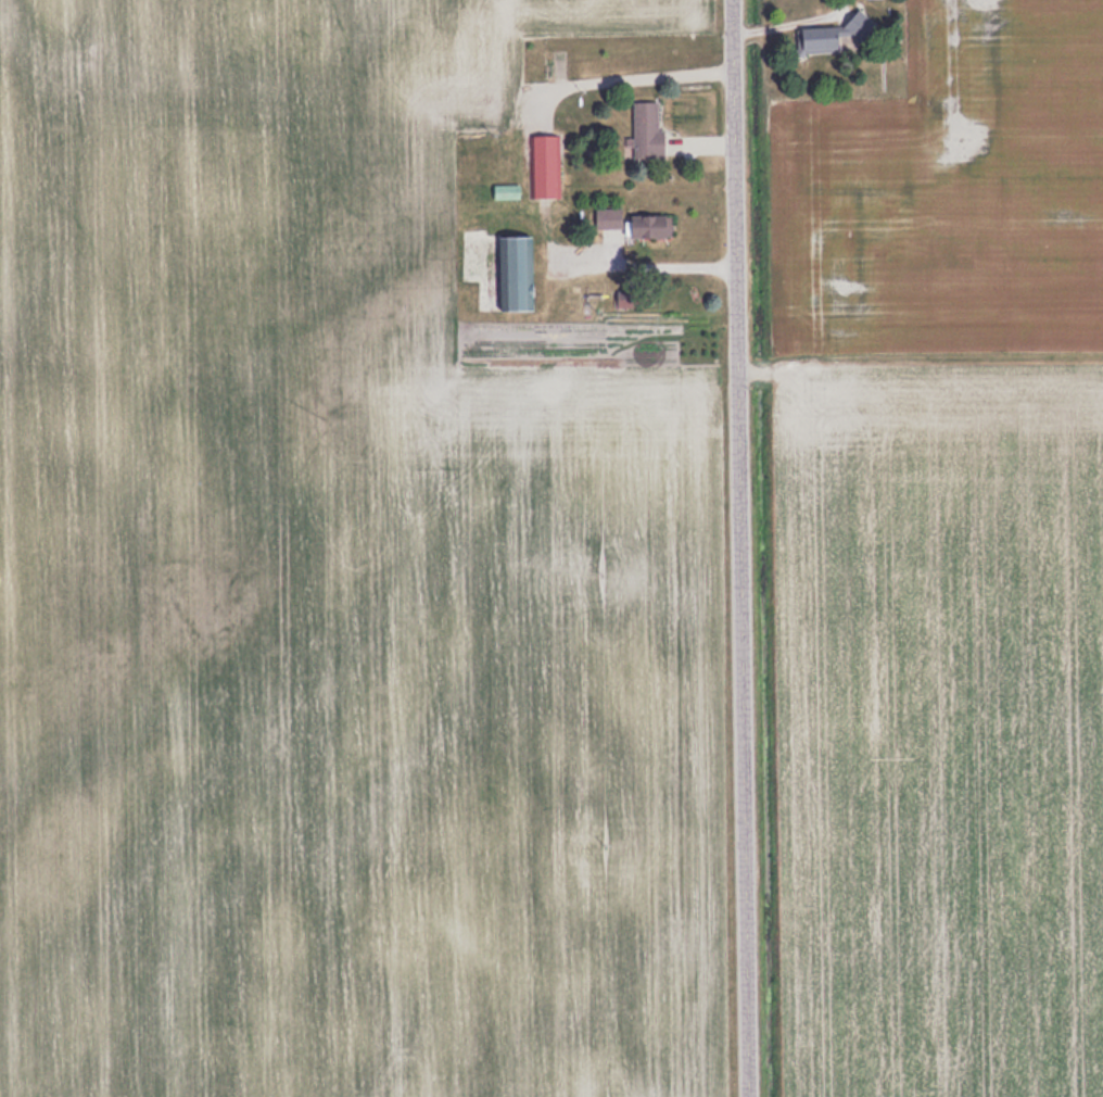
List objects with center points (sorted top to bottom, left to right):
building: (825, 35)
building: (645, 131)
building: (545, 166)
building: (632, 223)
building: (514, 274)
road: (740, 548)

